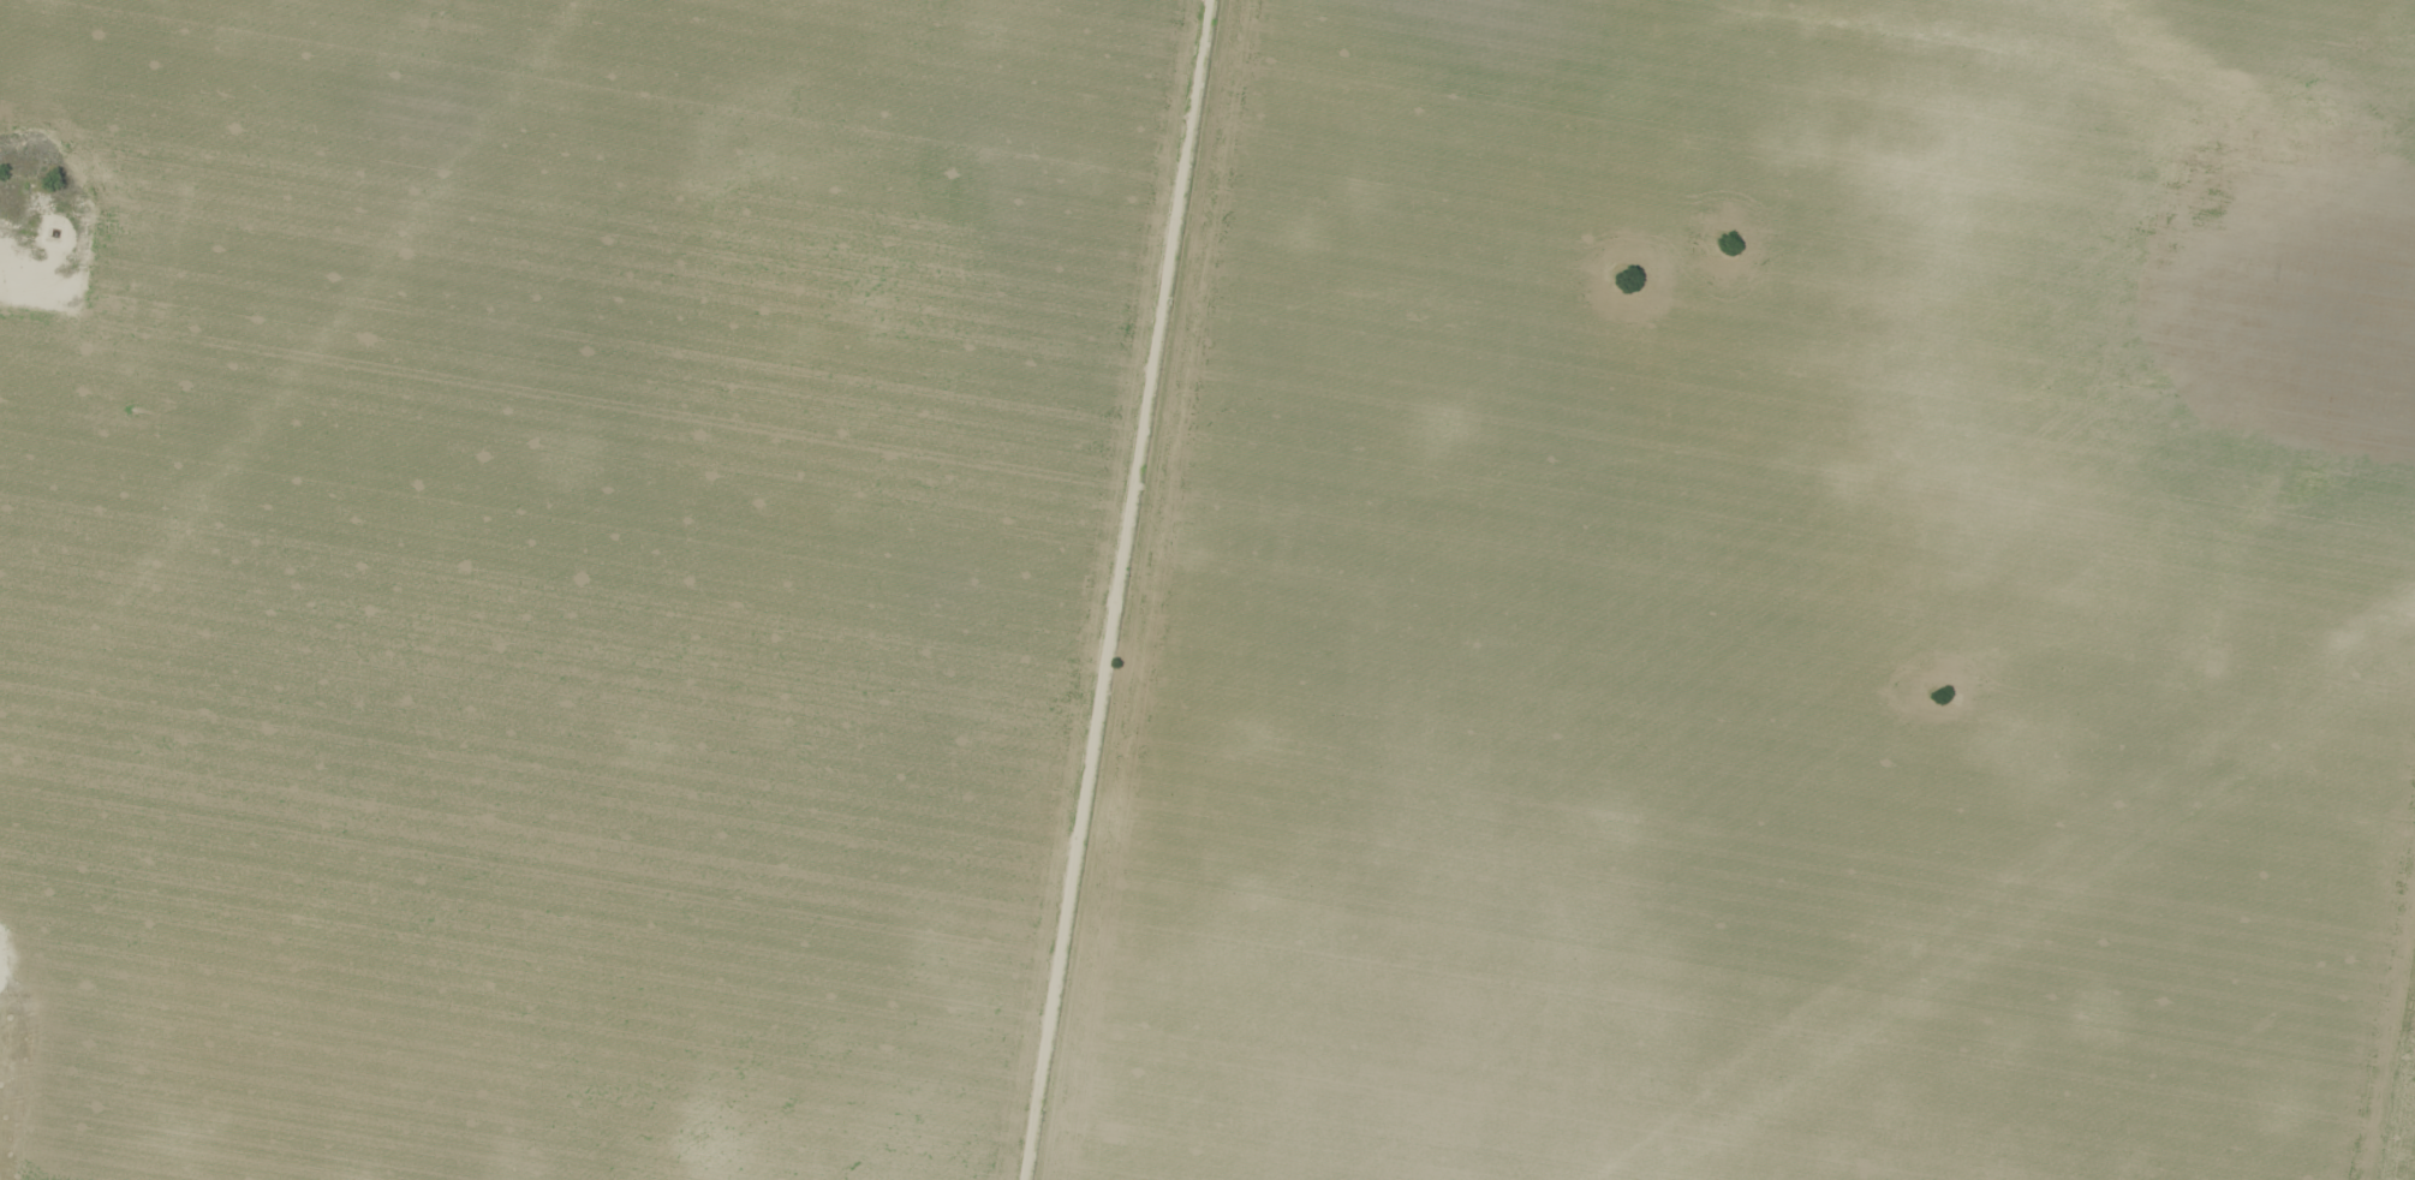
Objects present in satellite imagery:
road: (1769, 585)
road: (1105, 590)
road: (2384, 993)

